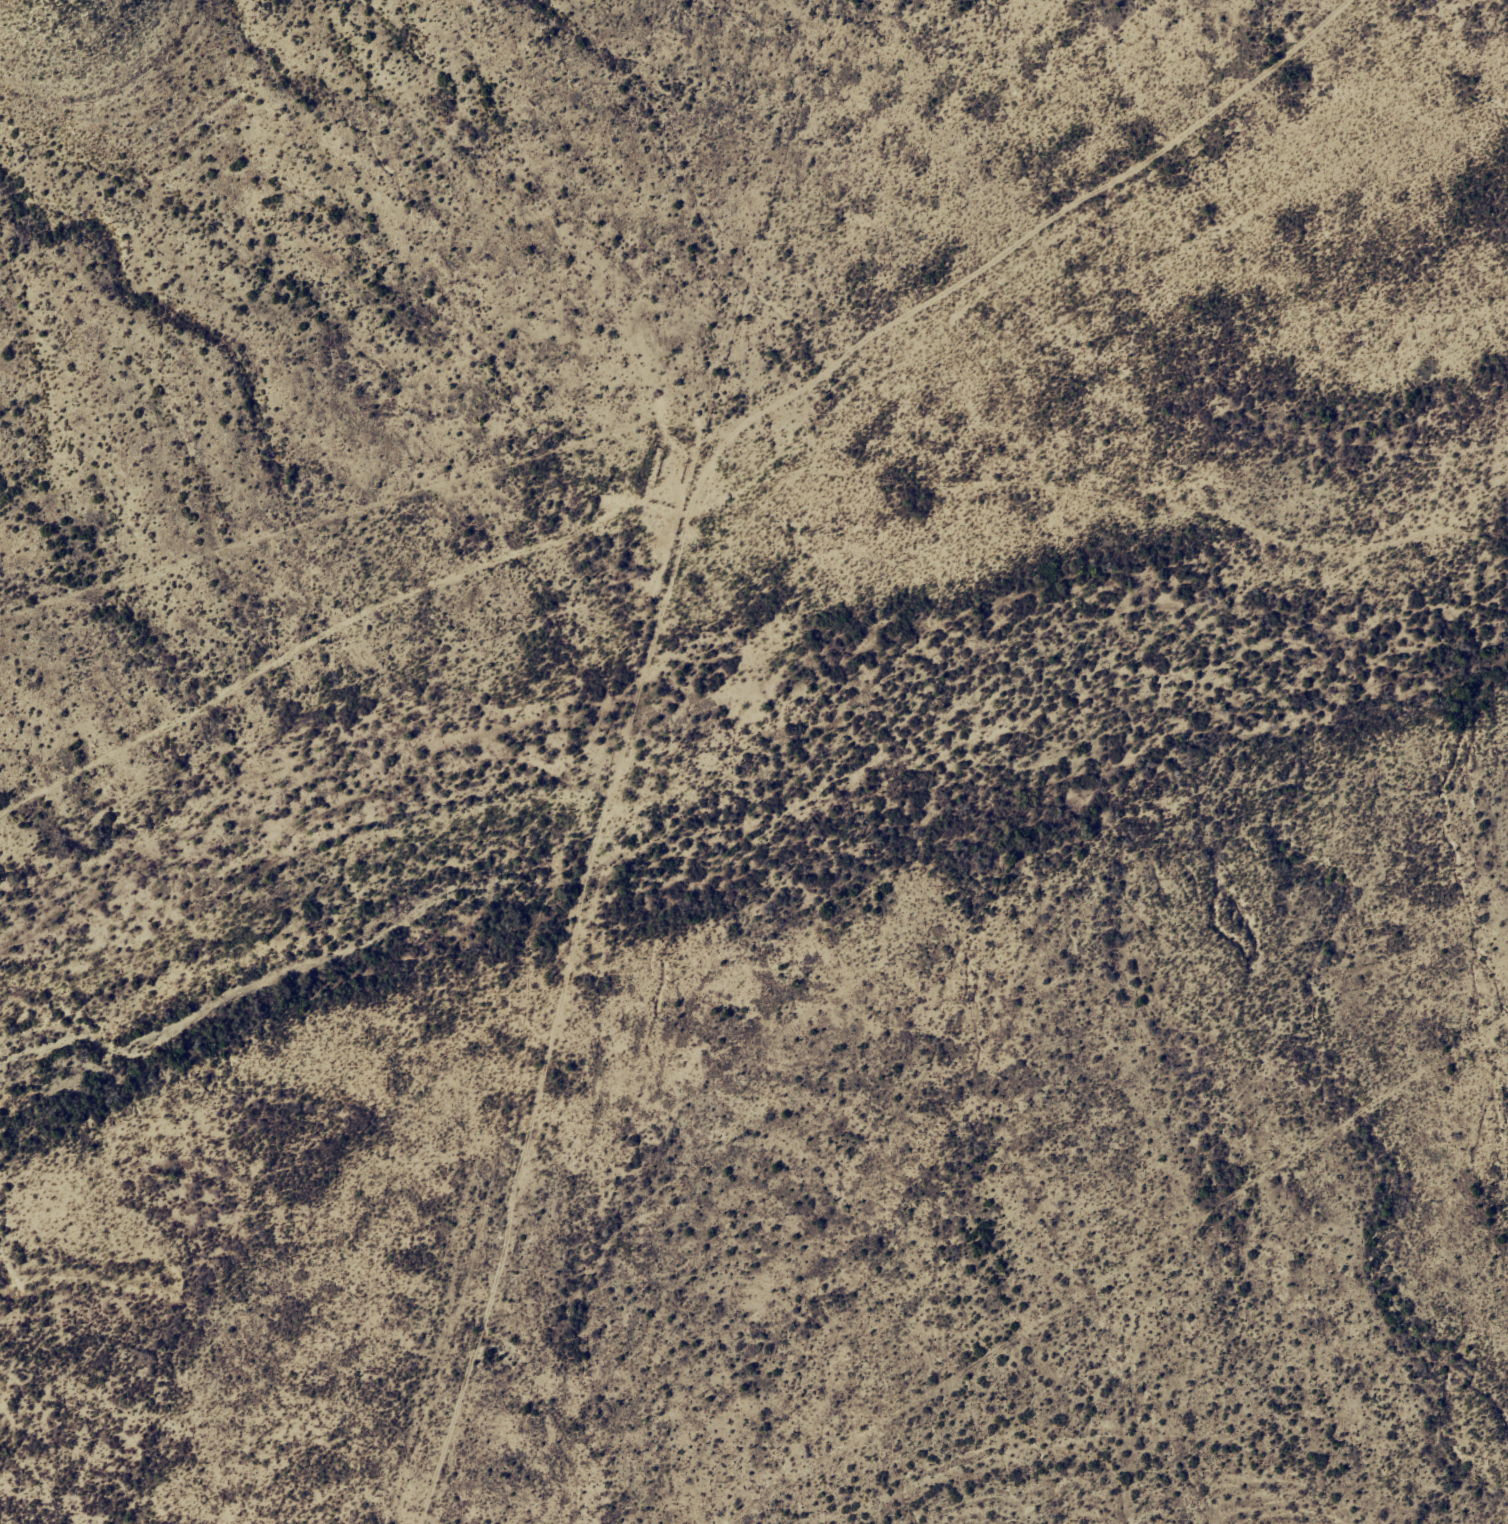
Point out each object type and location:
road: (747, 502)
road: (1153, 547)

